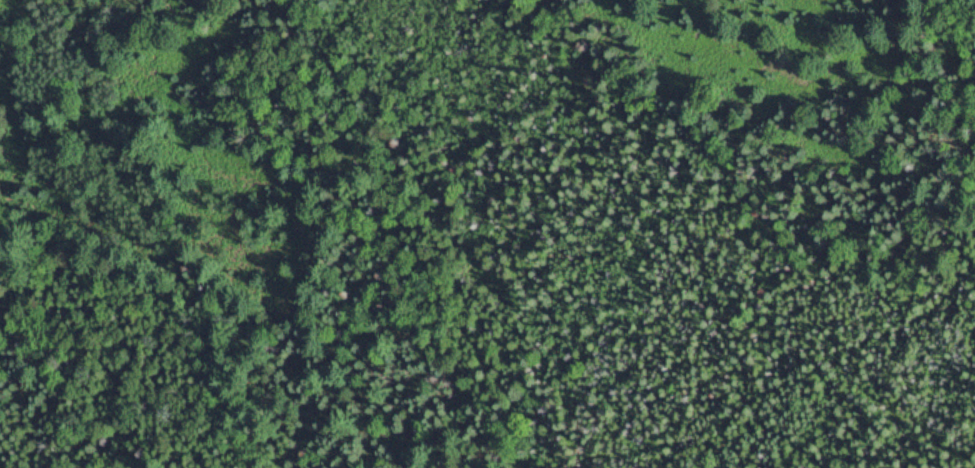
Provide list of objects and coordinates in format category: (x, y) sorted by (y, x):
road: (8, 33)

